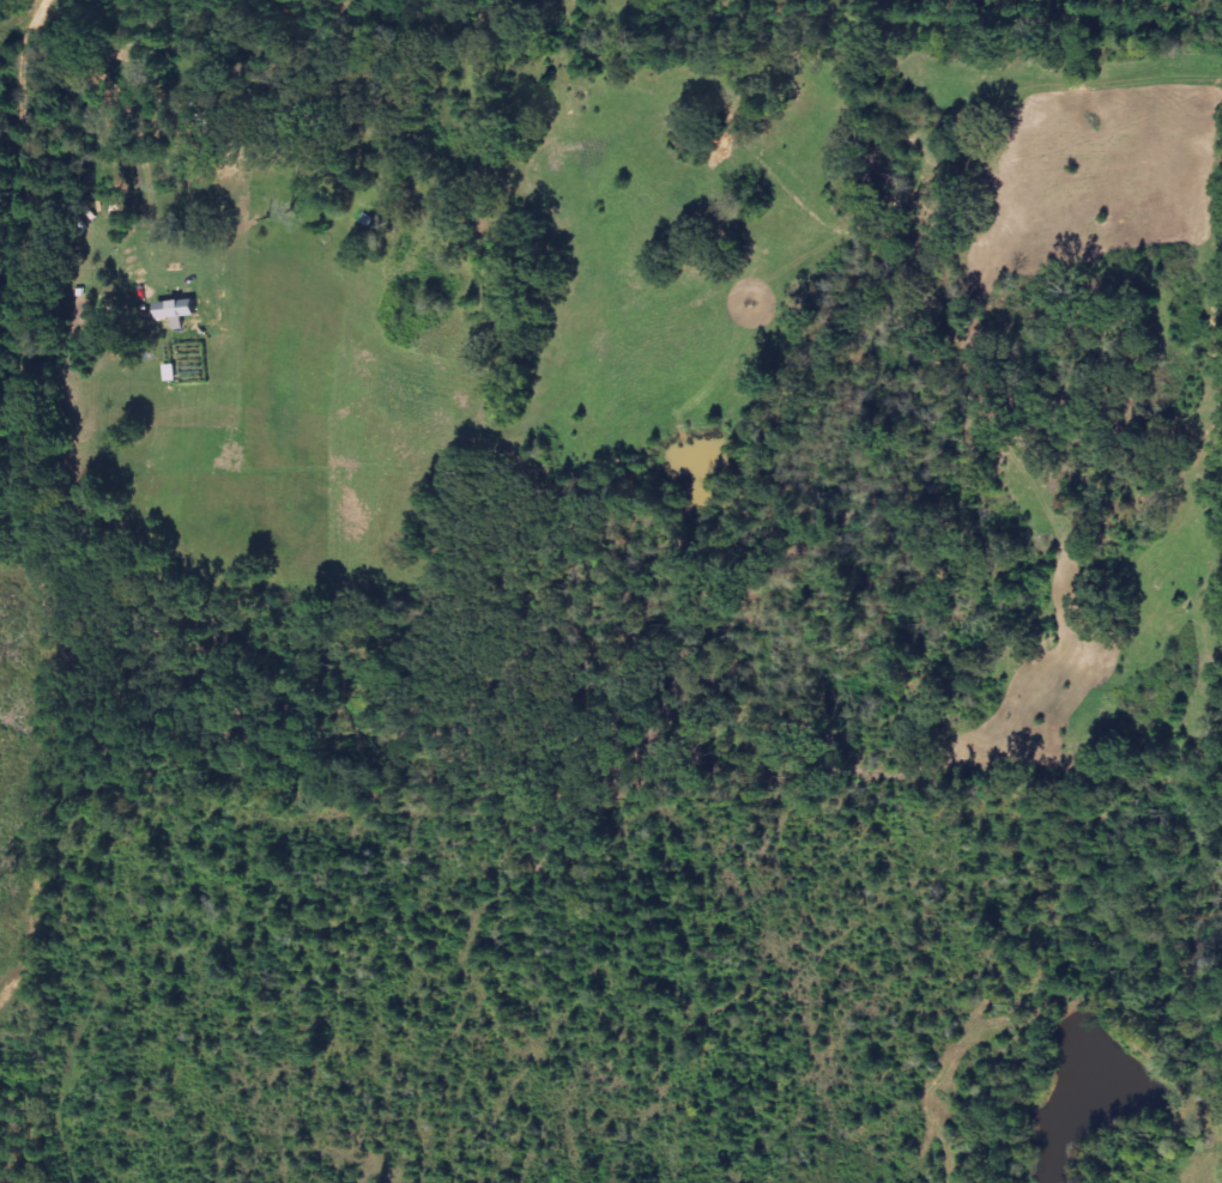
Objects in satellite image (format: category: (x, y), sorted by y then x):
road: (48, 168)
building: (177, 311)

